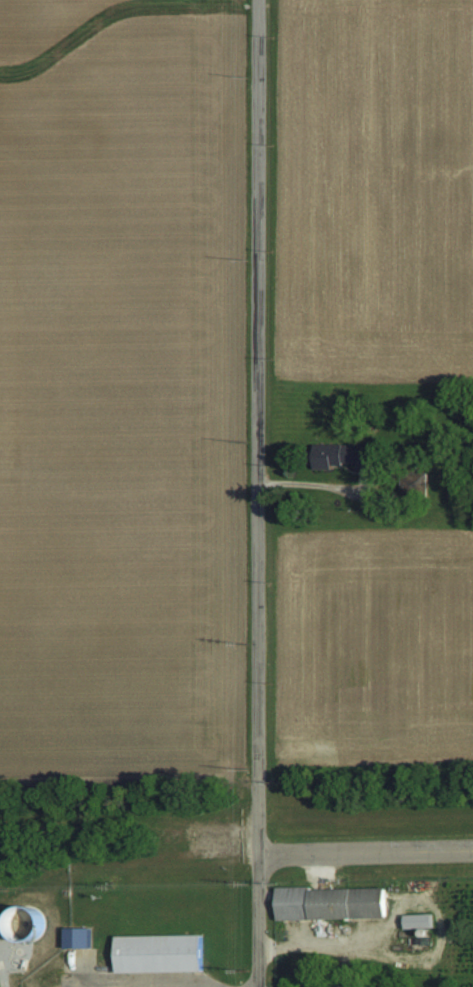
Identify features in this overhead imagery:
building: (344, 455)
road: (257, 493)
road: (365, 852)
building: (330, 904)
building: (420, 921)
building: (77, 937)
building: (157, 953)

